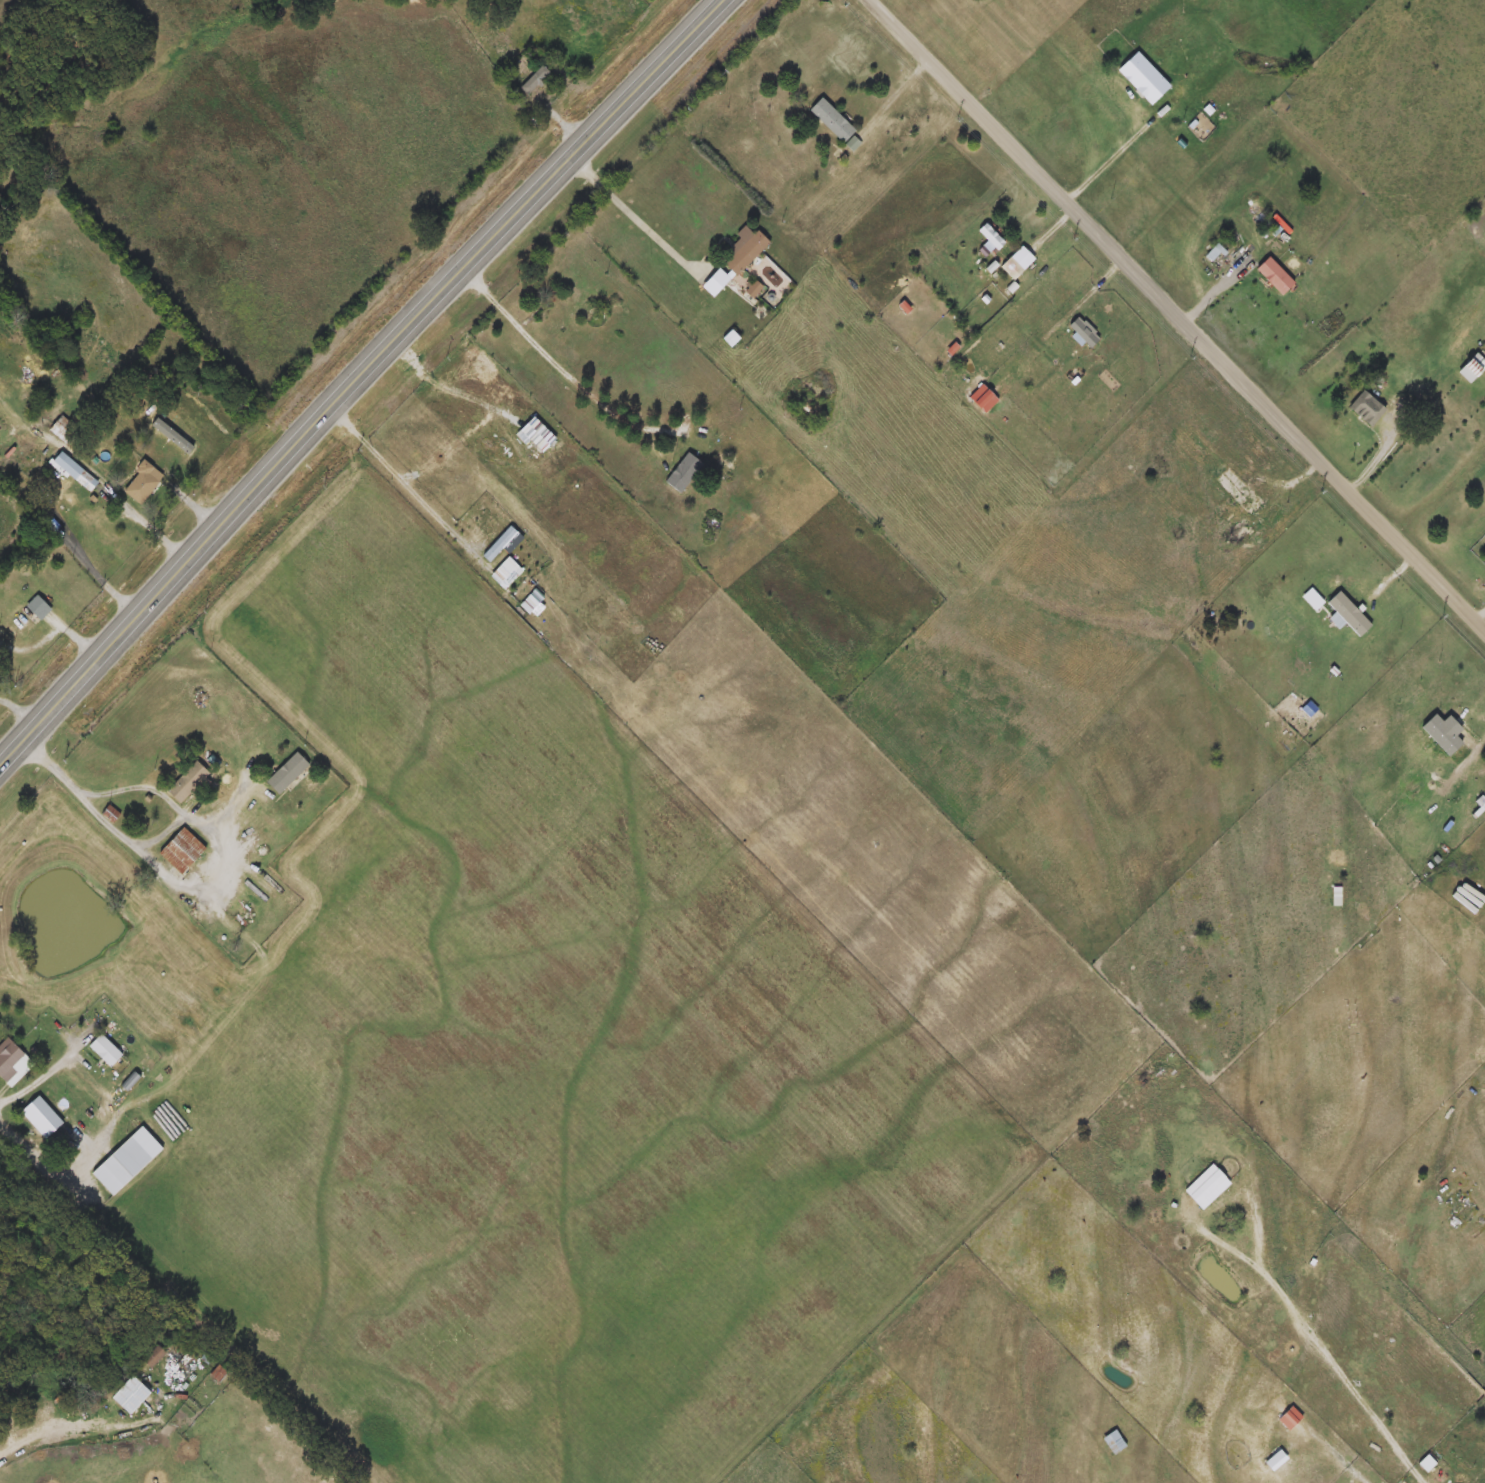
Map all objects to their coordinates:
building: (535, 81)
building: (831, 121)
road: (561, 122)
road: (1112, 159)
road: (637, 215)
building: (744, 251)
building: (1274, 275)
building: (754, 289)
road: (1176, 312)
road: (1410, 362)
road: (376, 363)
road: (569, 373)
building: (1366, 408)
road: (1423, 426)
building: (65, 430)
building: (685, 466)
building: (77, 471)
road: (398, 473)
building: (145, 482)
road: (198, 509)
road: (147, 527)
road: (80, 555)
building: (40, 607)
building: (1349, 614)
road: (54, 630)
road: (18, 713)
road: (15, 750)
building: (290, 772)
building: (191, 781)
road: (226, 804)
building: (111, 813)
road: (96, 814)
road: (189, 818)
building: (183, 850)
building: (108, 1050)
building: (14, 1060)
road: (38, 1076)
building: (45, 1117)
road: (41, 1157)
building: (131, 1160)
road: (1309, 1334)
building: (156, 1355)
building: (132, 1395)
building: (1113, 1442)
road: (1336, 1456)

